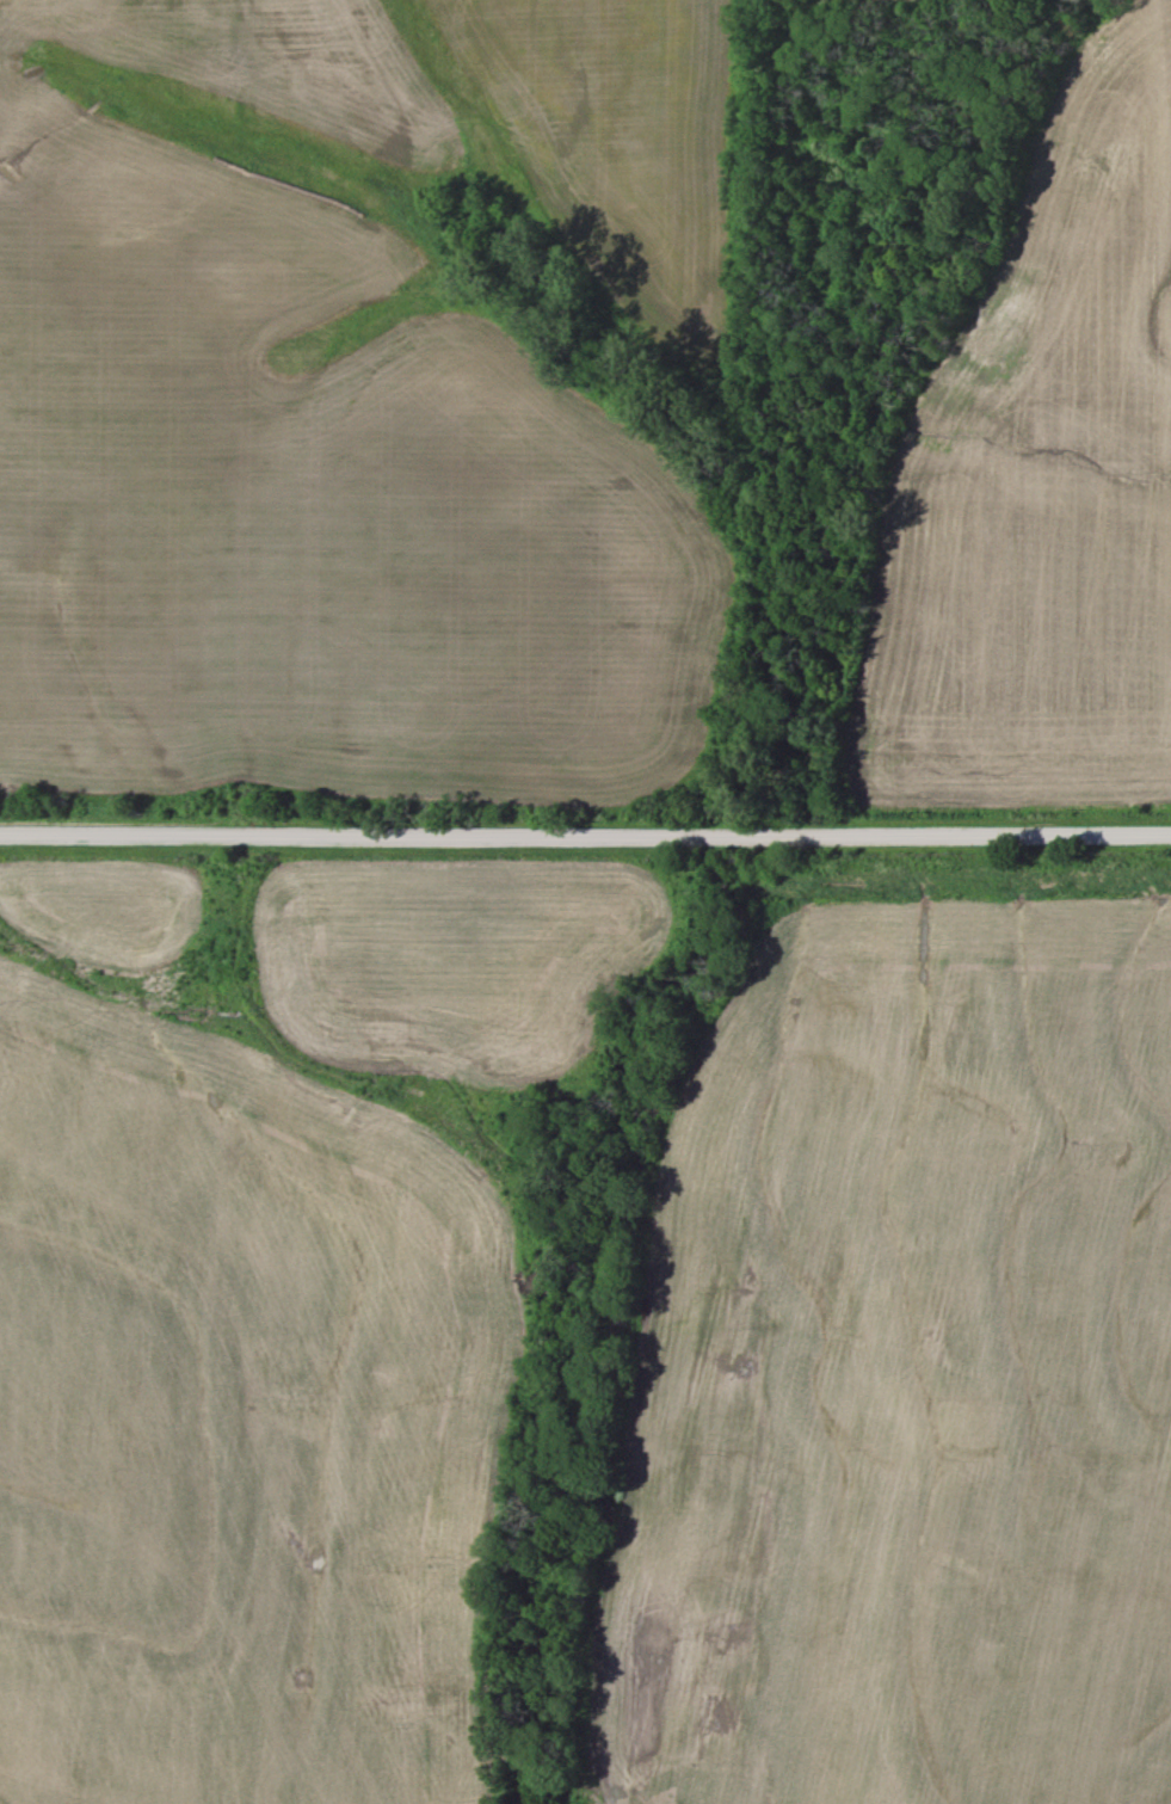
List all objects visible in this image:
road: (585, 835)

